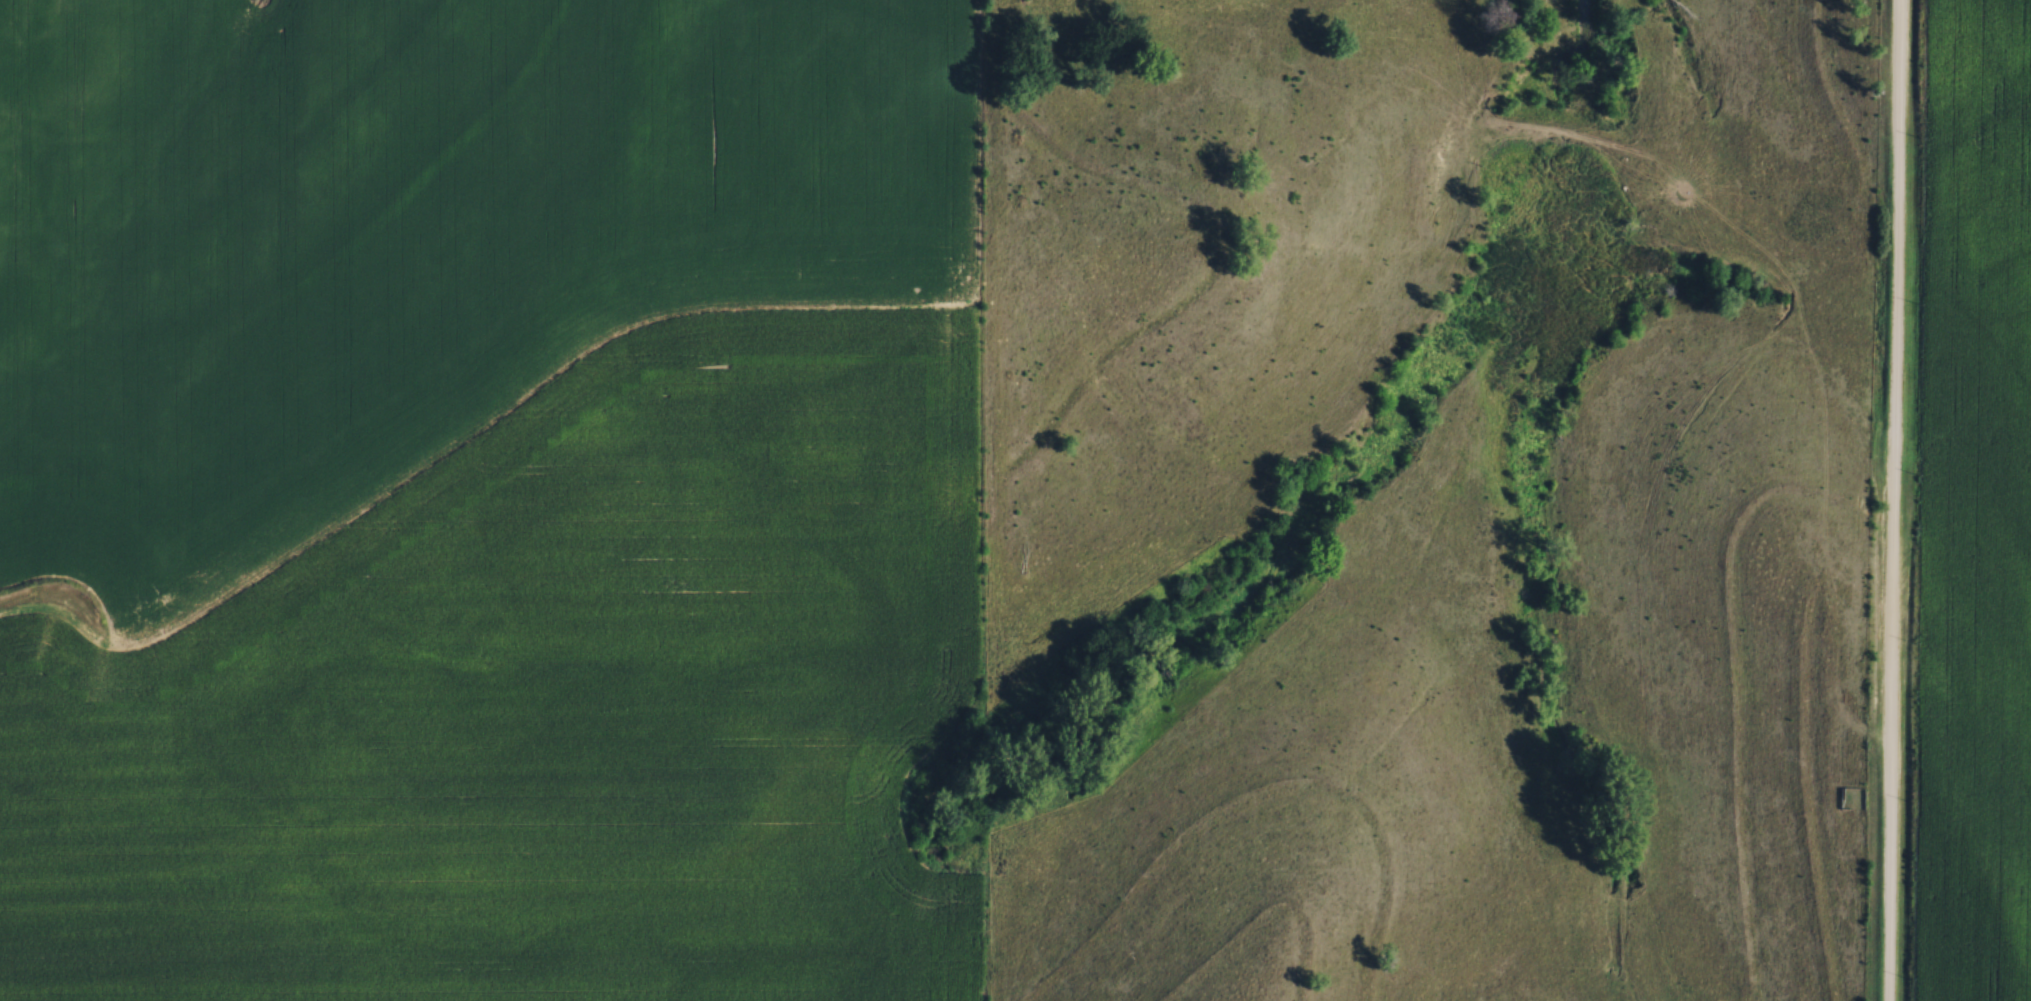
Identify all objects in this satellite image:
road: (1897, 500)

